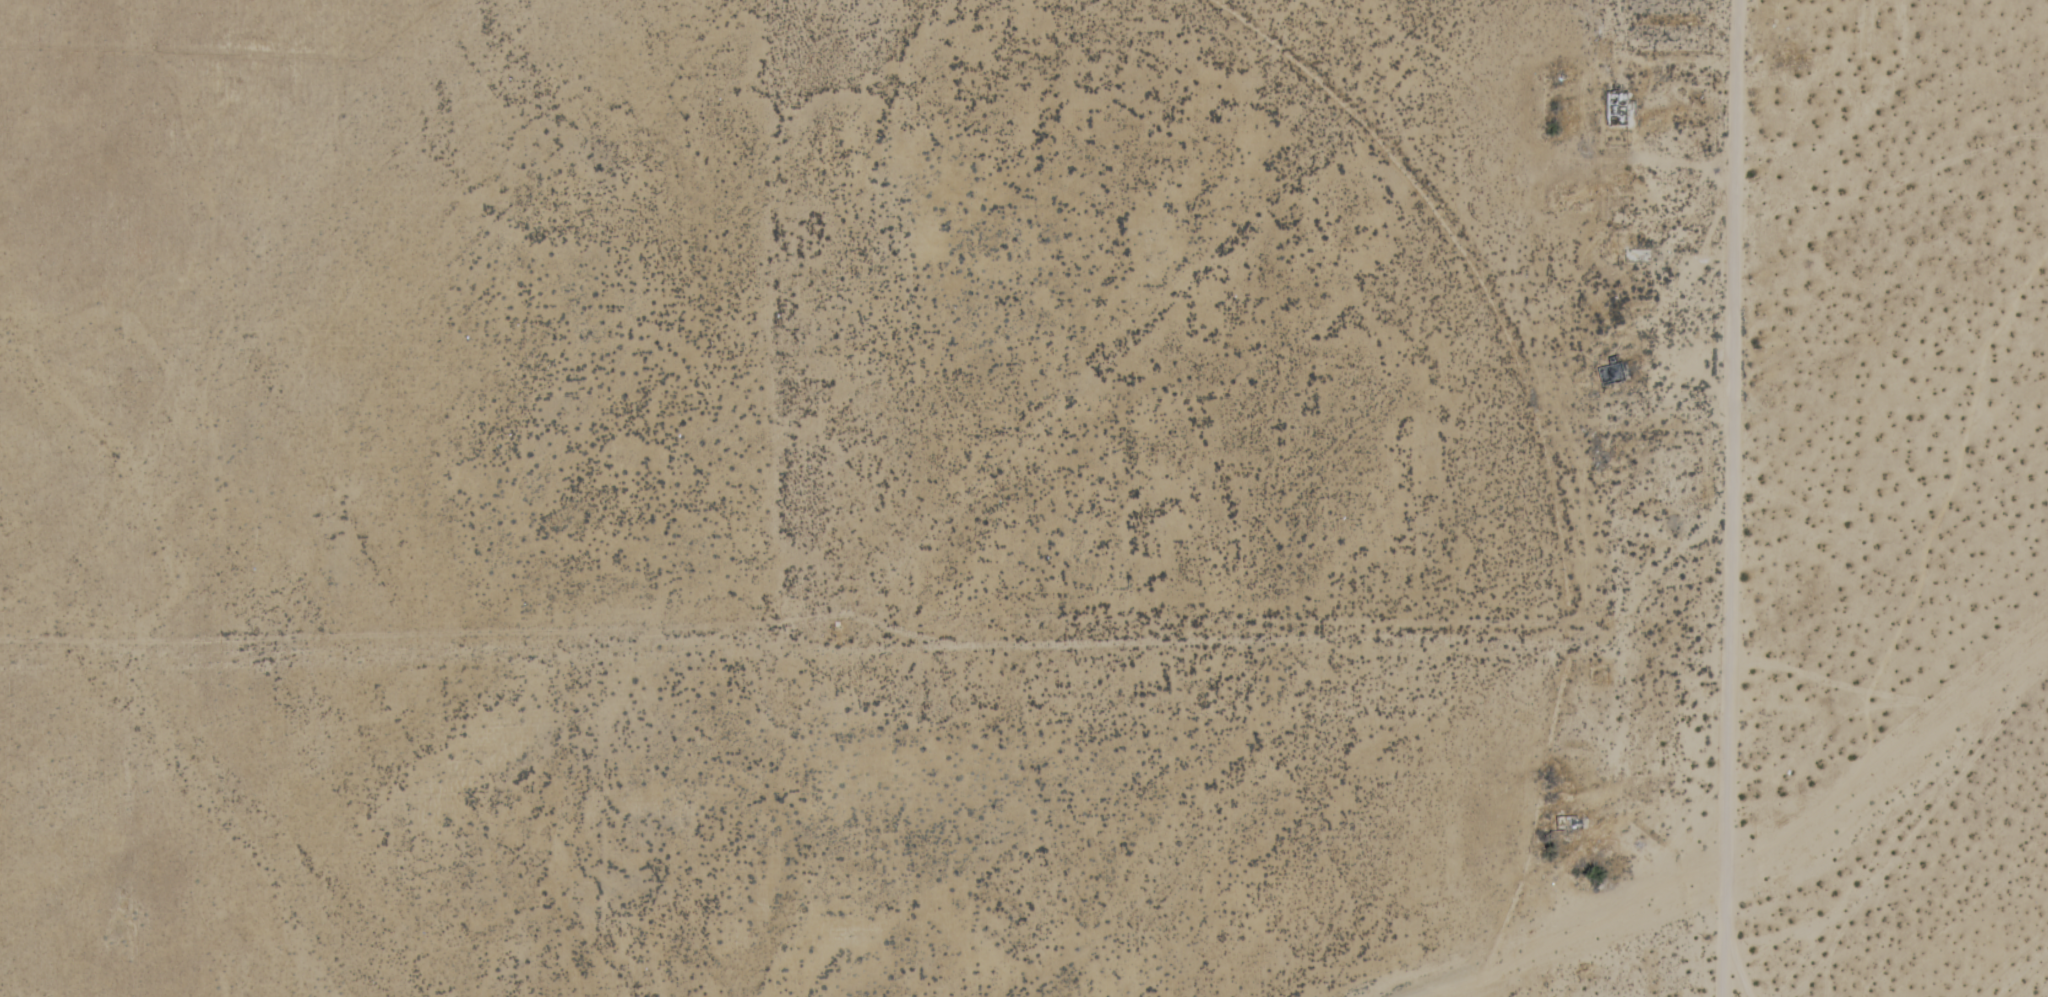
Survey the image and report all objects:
road: (1732, 497)
road: (1740, 975)

